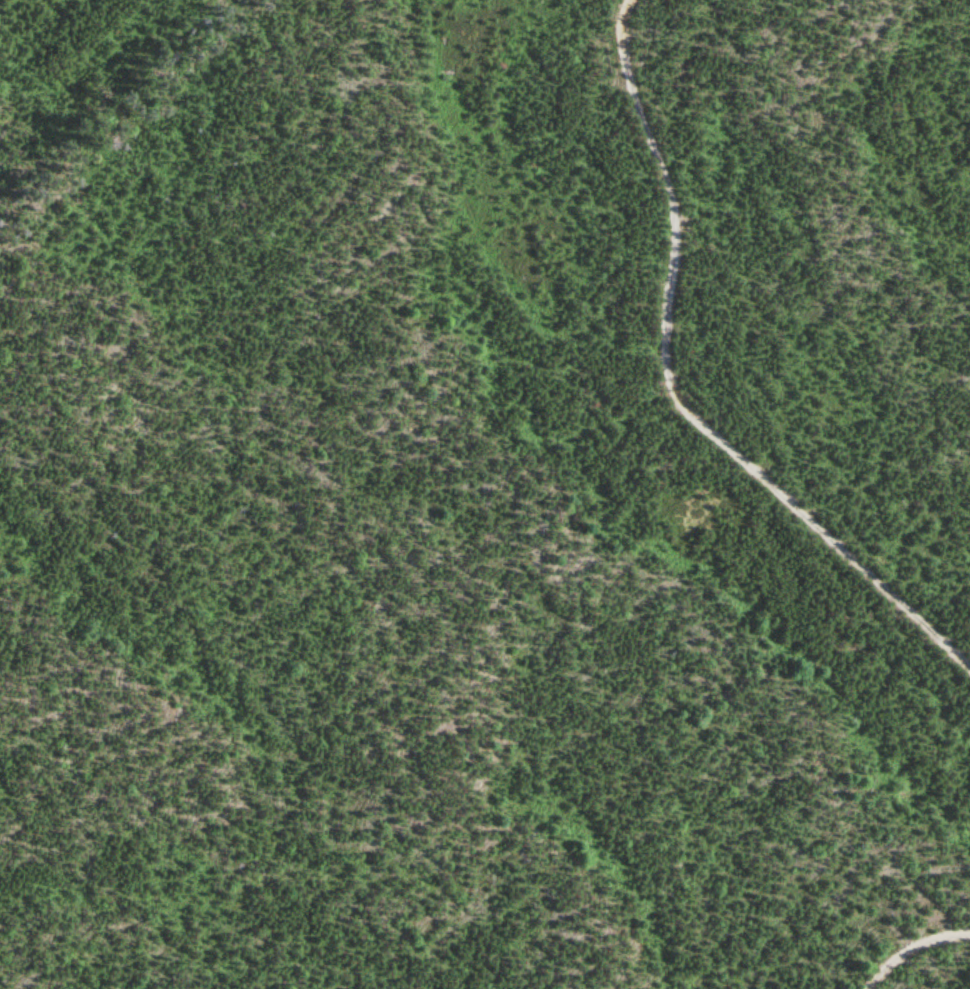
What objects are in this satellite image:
road: (672, 393)
road: (913, 955)

